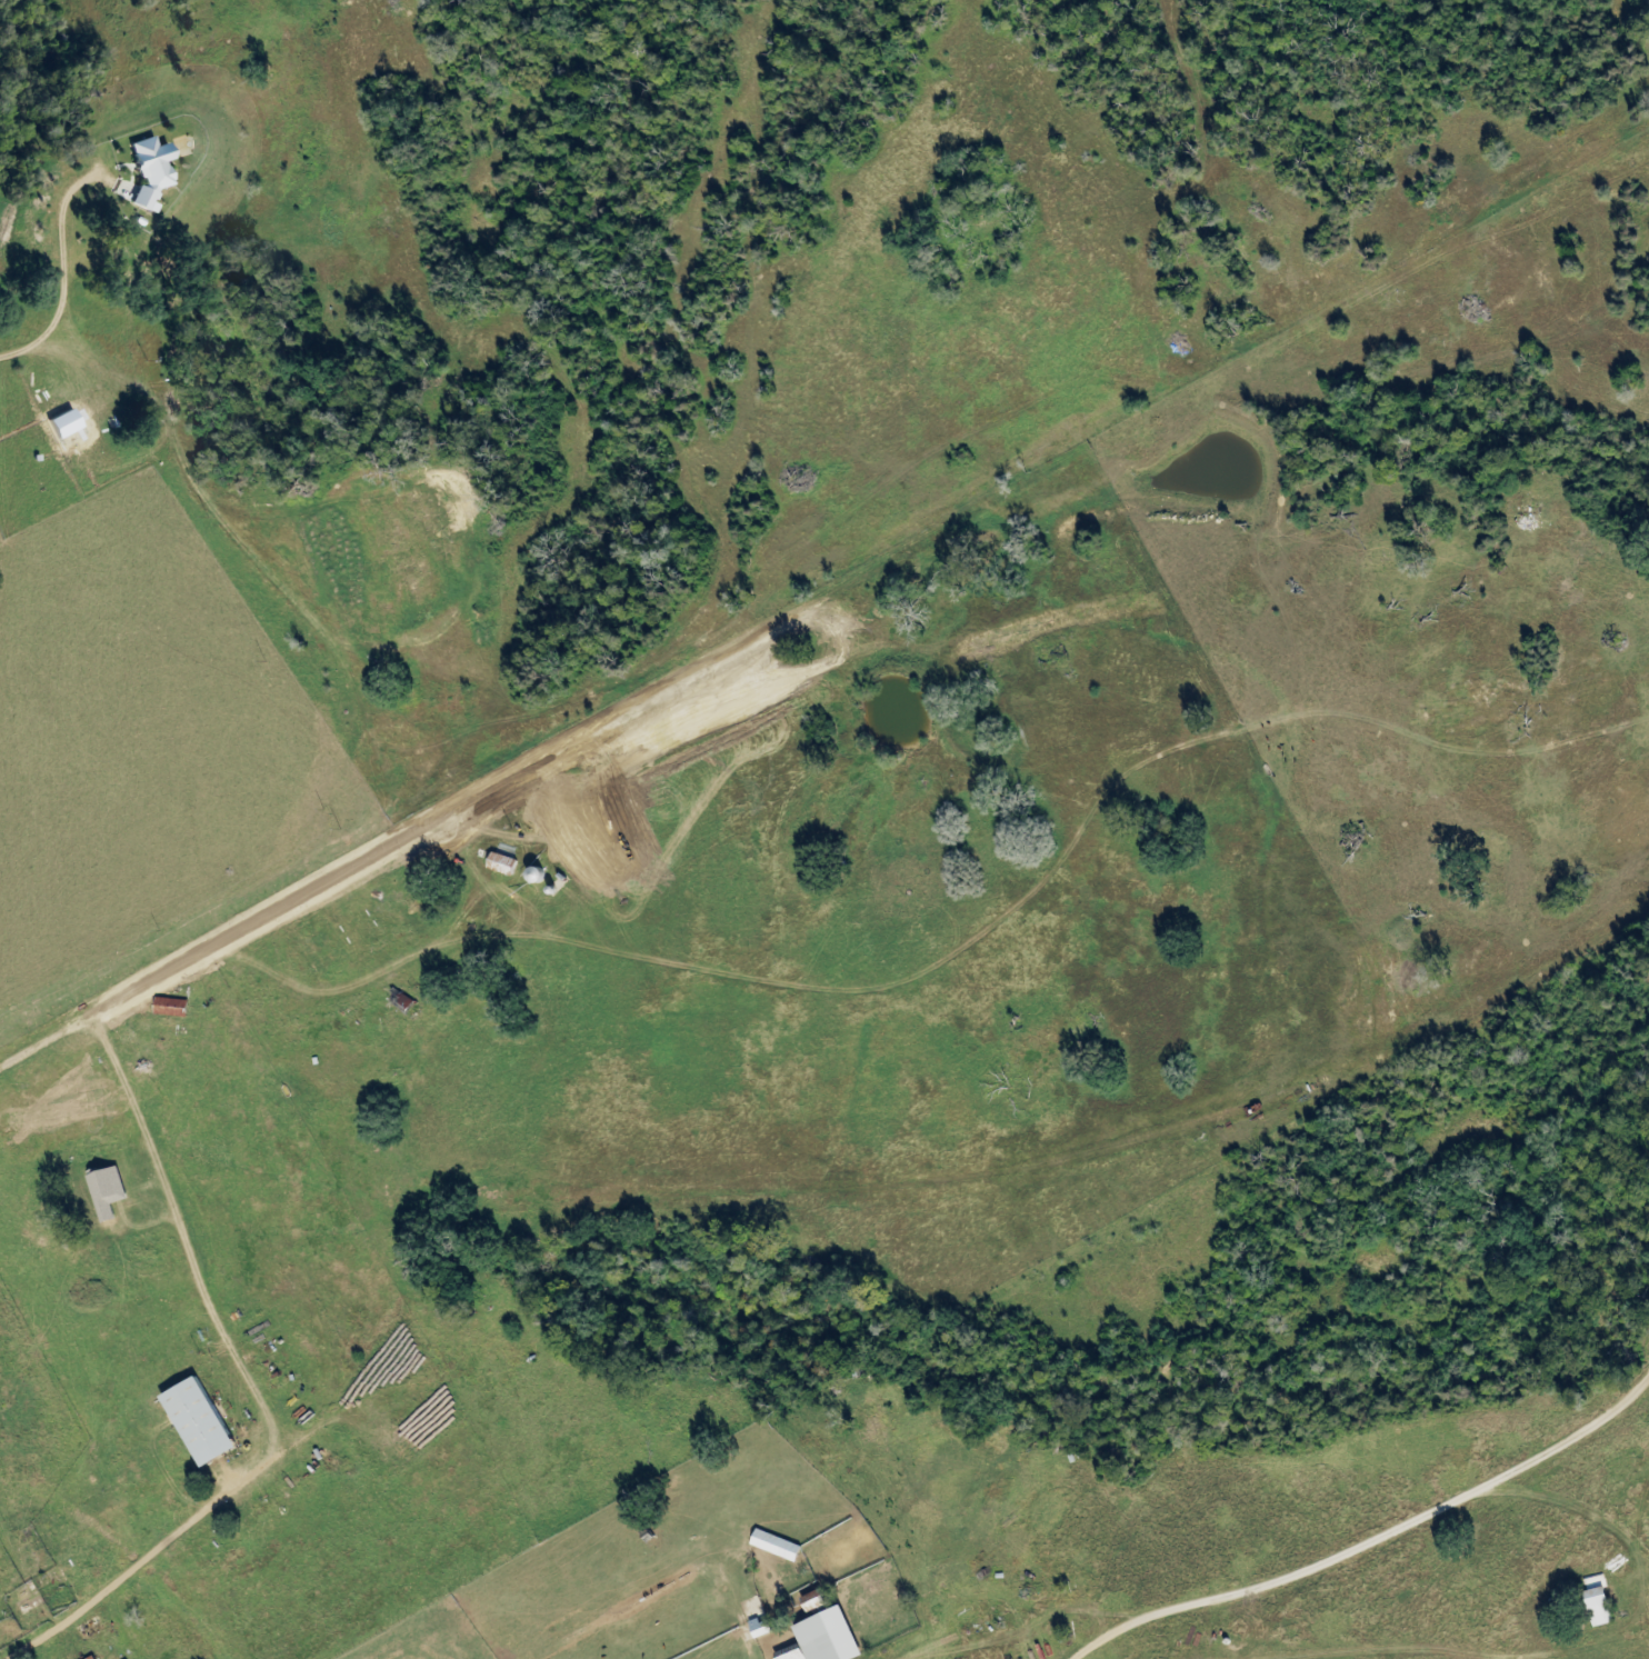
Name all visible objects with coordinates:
building: (509, 866)
building: (543, 877)
building: (156, 1006)
road: (411, 1143)
road: (1050, 1158)
building: (206, 1422)
road: (1377, 1540)
building: (762, 1545)
building: (1588, 1607)
building: (804, 1632)
building: (98, 1658)

